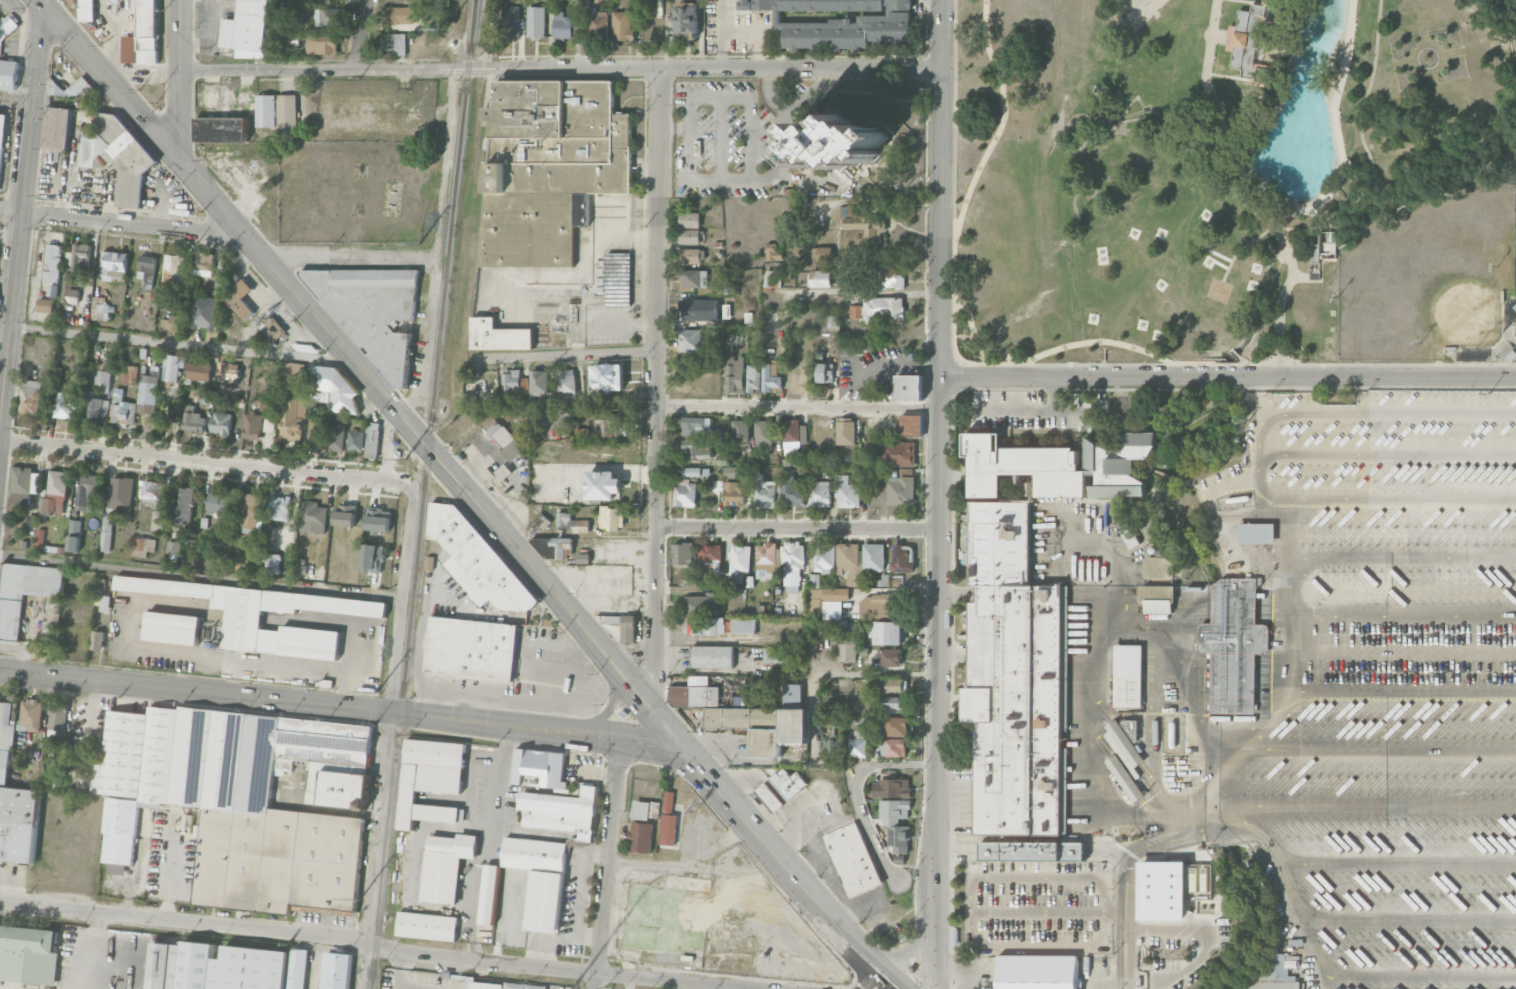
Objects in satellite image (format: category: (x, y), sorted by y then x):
road: (1269, 0)
building: (71, 2)
building: (114, 2)
traffic signals: (47, 10)
building: (87, 10)
park: (1128, 13)
building: (328, 17)
building: (686, 18)
building: (509, 21)
building: (535, 22)
building: (840, 22)
building: (597, 24)
building: (562, 26)
building: (621, 26)
building: (394, 27)
power tower: (443, 28)
building: (247, 29)
building: (143, 35)
road: (360, 35)
road: (1221, 36)
road: (48, 39)
building: (291, 39)
building: (1252, 40)
building: (320, 46)
building: (0, 48)
road: (742, 55)
road: (560, 68)
road: (926, 68)
road: (116, 69)
road: (143, 72)
road: (796, 76)
road: (939, 78)
road: (107, 79)
road: (179, 79)
building: (77, 87)
road: (16, 99)
building: (266, 111)
building: (287, 113)
road: (791, 113)
road: (163, 117)
road: (1002, 119)
road: (1246, 124)
building: (58, 128)
building: (221, 129)
building: (2, 142)
building: (839, 143)
road: (689, 144)
road: (1365, 149)
building: (118, 156)
traffic signals: (177, 158)
road: (446, 161)
building: (548, 167)
park: (1236, 180)
road: (1241, 188)
road: (20, 206)
building: (689, 220)
road: (118, 224)
building: (861, 228)
road: (1291, 229)
building: (689, 237)
road: (923, 239)
power tower: (417, 243)
building: (772, 252)
building: (1315, 252)
road: (384, 254)
building: (821, 254)
building: (78, 256)
road: (297, 256)
building: (689, 256)
building: (205, 264)
building: (113, 265)
building: (53, 268)
building: (147, 268)
building: (173, 269)
building: (693, 278)
building: (772, 278)
building: (893, 278)
building: (618, 279)
building: (819, 279)
park: (1433, 279)
building: (69, 291)
road: (864, 292)
building: (240, 298)
building: (45, 305)
building: (100, 309)
building: (882, 309)
building: (856, 311)
building: (695, 312)
building: (205, 313)
building: (373, 313)
building: (174, 324)
road: (4, 326)
building: (272, 329)
building: (1510, 329)
building: (498, 336)
building: (690, 340)
road: (154, 343)
road: (426, 343)
road: (1049, 351)
road: (565, 357)
road: (1056, 364)
building: (172, 367)
building: (198, 370)
building: (104, 372)
building: (228, 372)
building: (293, 373)
building: (824, 373)
building: (735, 374)
building: (130, 375)
building: (771, 376)
building: (607, 377)
building: (753, 378)
road: (1227, 379)
building: (511, 383)
building: (539, 383)
building: (566, 384)
building: (909, 387)
building: (334, 389)
road: (652, 391)
building: (147, 394)
building: (30, 397)
building: (466, 399)
road: (795, 399)
building: (64, 405)
building: (268, 405)
road: (796, 407)
building: (94, 408)
road: (1038, 410)
building: (122, 411)
building: (293, 419)
building: (193, 420)
building: (221, 423)
building: (609, 425)
building: (911, 425)
building: (252, 426)
building: (696, 426)
building: (740, 430)
building: (846, 431)
building: (793, 433)
building: (763, 434)
building: (335, 439)
building: (504, 439)
building: (366, 440)
road: (430, 450)
building: (696, 450)
building: (897, 454)
power tower: (402, 461)
road: (207, 464)
building: (1061, 466)
building: (696, 472)
building: (730, 472)
building: (24, 485)
building: (602, 485)
building: (901, 490)
building: (684, 491)
building: (793, 491)
building: (57, 492)
building: (89, 492)
building: (153, 492)
building: (121, 493)
building: (765, 493)
building: (848, 493)
railway: (423, 494)
building: (734, 494)
building: (820, 494)
road: (939, 494)
building: (183, 504)
building: (219, 505)
building: (279, 508)
building: (251, 513)
building: (313, 513)
building: (345, 516)
building: (611, 518)
building: (158, 520)
building: (378, 520)
building: (563, 520)
building: (580, 526)
road: (795, 529)
building: (1255, 533)
building: (106, 534)
building: (74, 536)
building: (1129, 536)
building: (143, 546)
building: (553, 547)
building: (173, 550)
building: (682, 554)
building: (824, 557)
building: (874, 557)
road: (1403, 557)
building: (372, 558)
building: (583, 558)
building: (710, 558)
building: (902, 558)
building: (476, 560)
building: (766, 560)
building: (740, 562)
building: (850, 563)
building: (271, 564)
building: (792, 568)
building: (1159, 568)
road: (201, 577)
building: (24, 593)
road: (402, 598)
building: (825, 598)
building: (879, 606)
building: (1158, 606)
road: (1402, 616)
building: (243, 621)
road: (1289, 622)
building: (743, 626)
building: (172, 628)
building: (888, 633)
road: (705, 638)
building: (97, 640)
building: (1234, 647)
building: (471, 648)
building: (847, 649)
building: (776, 654)
building: (712, 657)
building: (891, 657)
road: (719, 673)
building: (1127, 676)
building: (1014, 679)
power tower: (376, 682)
building: (890, 686)
road: (1402, 691)
building: (695, 693)
building: (894, 704)
road: (606, 705)
road: (339, 708)
building: (32, 714)
road: (814, 717)
building: (767, 722)
building: (896, 727)
road: (88, 729)
building: (832, 743)
building: (857, 744)
traffic signals: (679, 747)
building: (894, 747)
building: (1124, 747)
road: (1378, 747)
road: (1229, 756)
building: (538, 769)
building: (1125, 778)
building: (431, 780)
building: (788, 783)
building: (96, 787)
building: (892, 788)
building: (770, 798)
building: (15, 801)
building: (244, 802)
road: (1382, 805)
building: (647, 810)
building: (895, 811)
building: (562, 813)
building: (668, 820)
road: (866, 825)
road: (1263, 833)
building: (641, 837)
building: (900, 840)
road: (373, 850)
building: (853, 859)
road: (1396, 862)
road: (609, 864)
building: (446, 866)
road: (662, 867)
road: (1128, 867)
road: (784, 869)
road: (1036, 876)
building: (540, 879)
building: (1169, 889)
building: (489, 895)
power tower: (357, 898)
road: (1050, 913)
road: (1304, 918)
road: (1410, 918)
building: (427, 926)
road: (365, 942)
road: (1038, 946)
road: (93, 951)
building: (28, 955)
building: (225, 967)
building: (336, 971)
road: (1126, 972)
building: (1038, 973)
road: (1422, 979)
road: (1331, 984)
building: (485, 986)
building: (524, 986)
building: (1274, 986)
road: (885, 987)
road: (1, 988)

